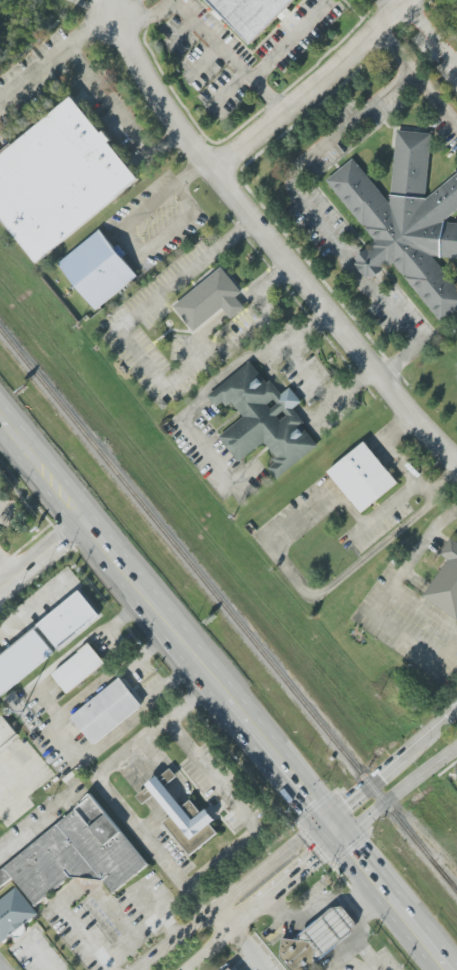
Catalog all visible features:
road: (389, 6)
road: (123, 7)
building: (252, 15)
road: (204, 35)
road: (431, 35)
road: (288, 41)
road: (56, 60)
road: (417, 80)
road: (314, 88)
road: (120, 113)
building: (59, 178)
road: (313, 215)
building: (406, 221)
road: (129, 239)
road: (275, 244)
building: (97, 269)
building: (210, 300)
road: (144, 366)
road: (308, 376)
road: (191, 409)
building: (264, 419)
road: (403, 463)
road: (38, 475)
building: (363, 477)
road: (342, 499)
road: (98, 547)
road: (38, 555)
road: (359, 564)
road: (3, 578)
building: (446, 583)
road: (380, 601)
railway: (228, 611)
road: (173, 635)
building: (45, 640)
building: (78, 668)
building: (106, 711)
building: (5, 731)
road: (431, 731)
road: (276, 757)
road: (365, 785)
road: (103, 790)
road: (398, 790)
road: (8, 800)
road: (238, 808)
building: (181, 814)
traffic signals: (325, 816)
road: (37, 826)
traffic signals: (340, 834)
building: (75, 854)
road: (299, 868)
railway: (446, 877)
road: (95, 891)
road: (387, 892)
road: (232, 893)
road: (322, 902)
building: (14, 915)
road: (223, 916)
road: (218, 935)
building: (317, 939)
road: (360, 940)
road: (137, 943)
road: (249, 947)
road: (34, 955)
parking lot: (5, 963)
road: (381, 965)
road: (2, 966)
building: (234, 967)

